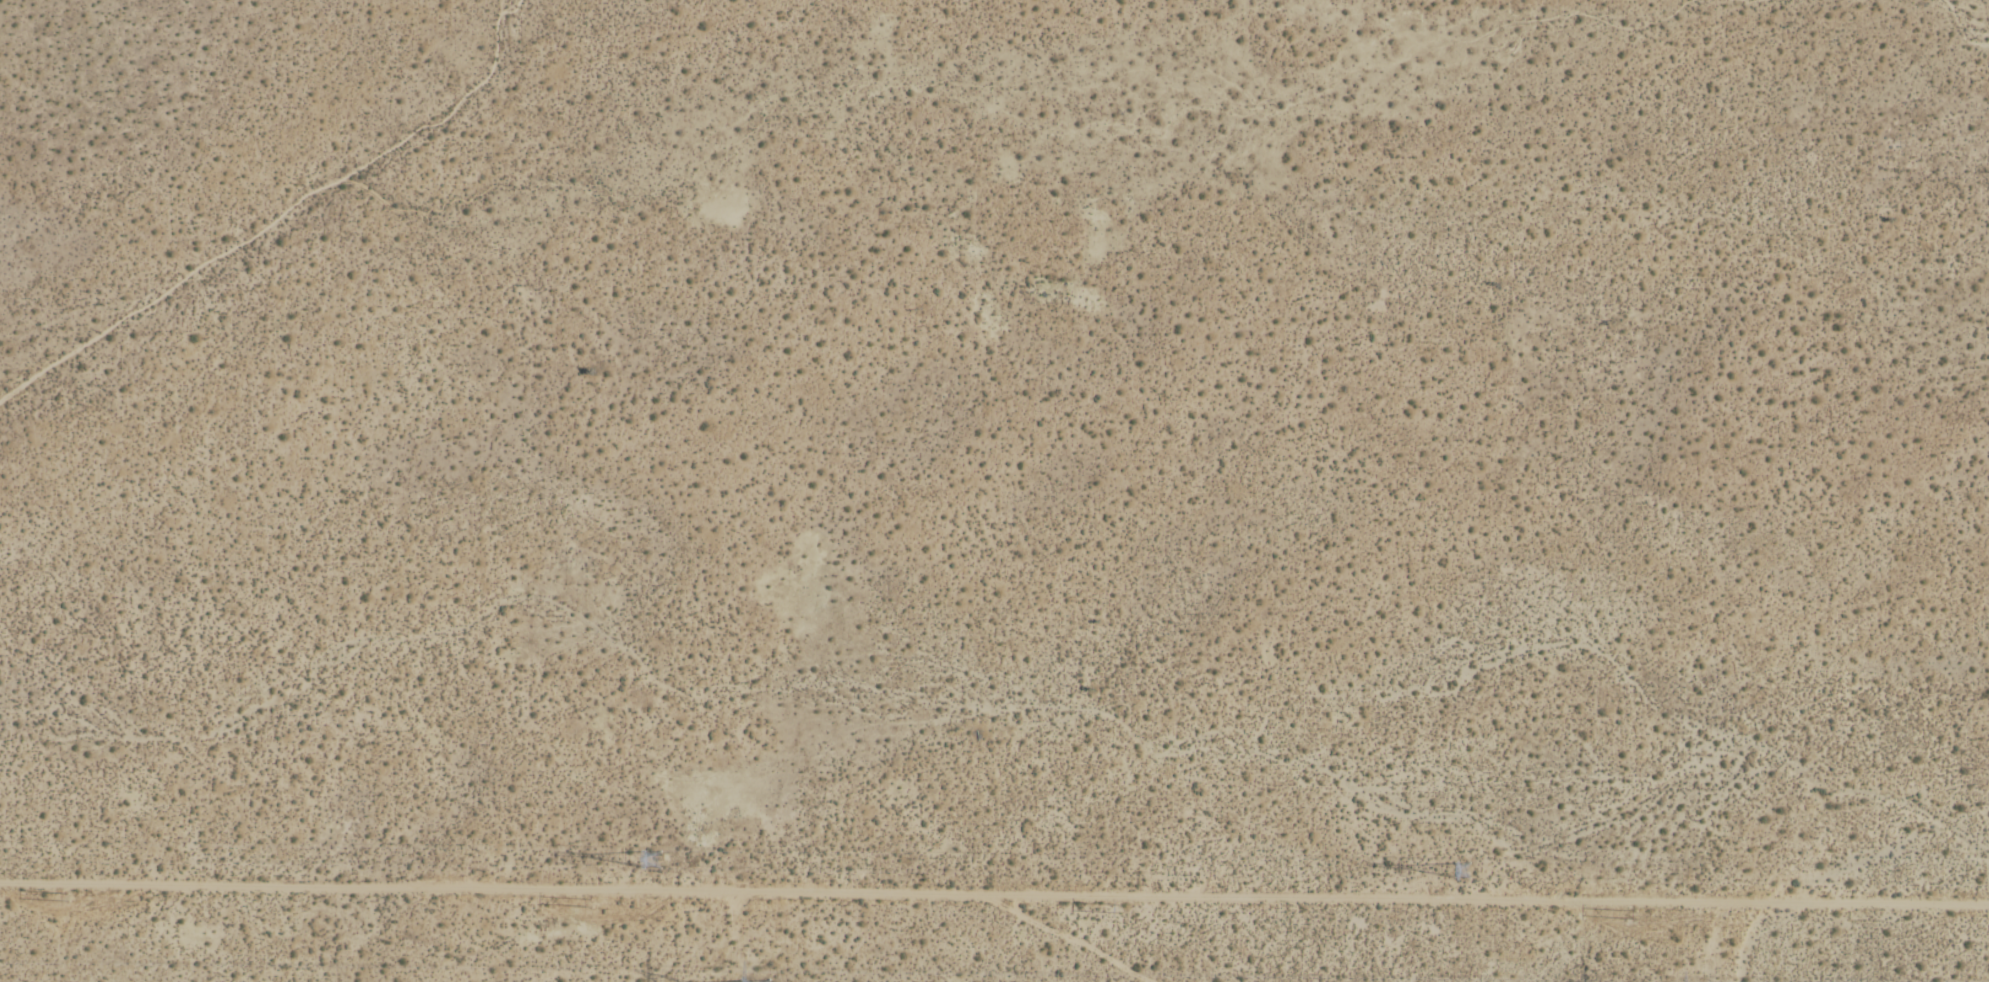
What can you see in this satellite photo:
power tower: (650, 863)
power tower: (1453, 867)
road: (496, 888)
power tower: (93, 898)
power tower: (617, 902)
power tower: (1130, 911)
power tower: (1637, 917)

